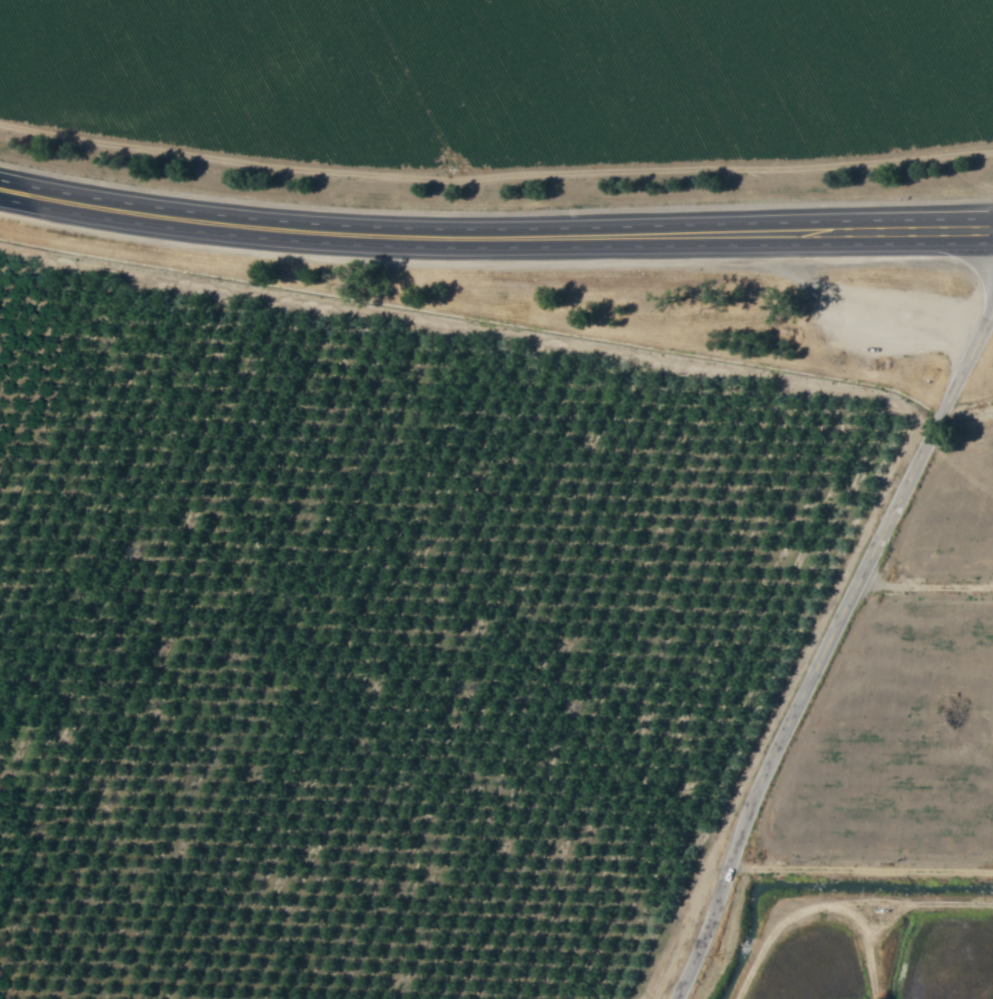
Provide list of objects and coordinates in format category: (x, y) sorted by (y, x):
road: (900, 231)
road: (402, 236)
railway: (493, 286)
road: (829, 652)

